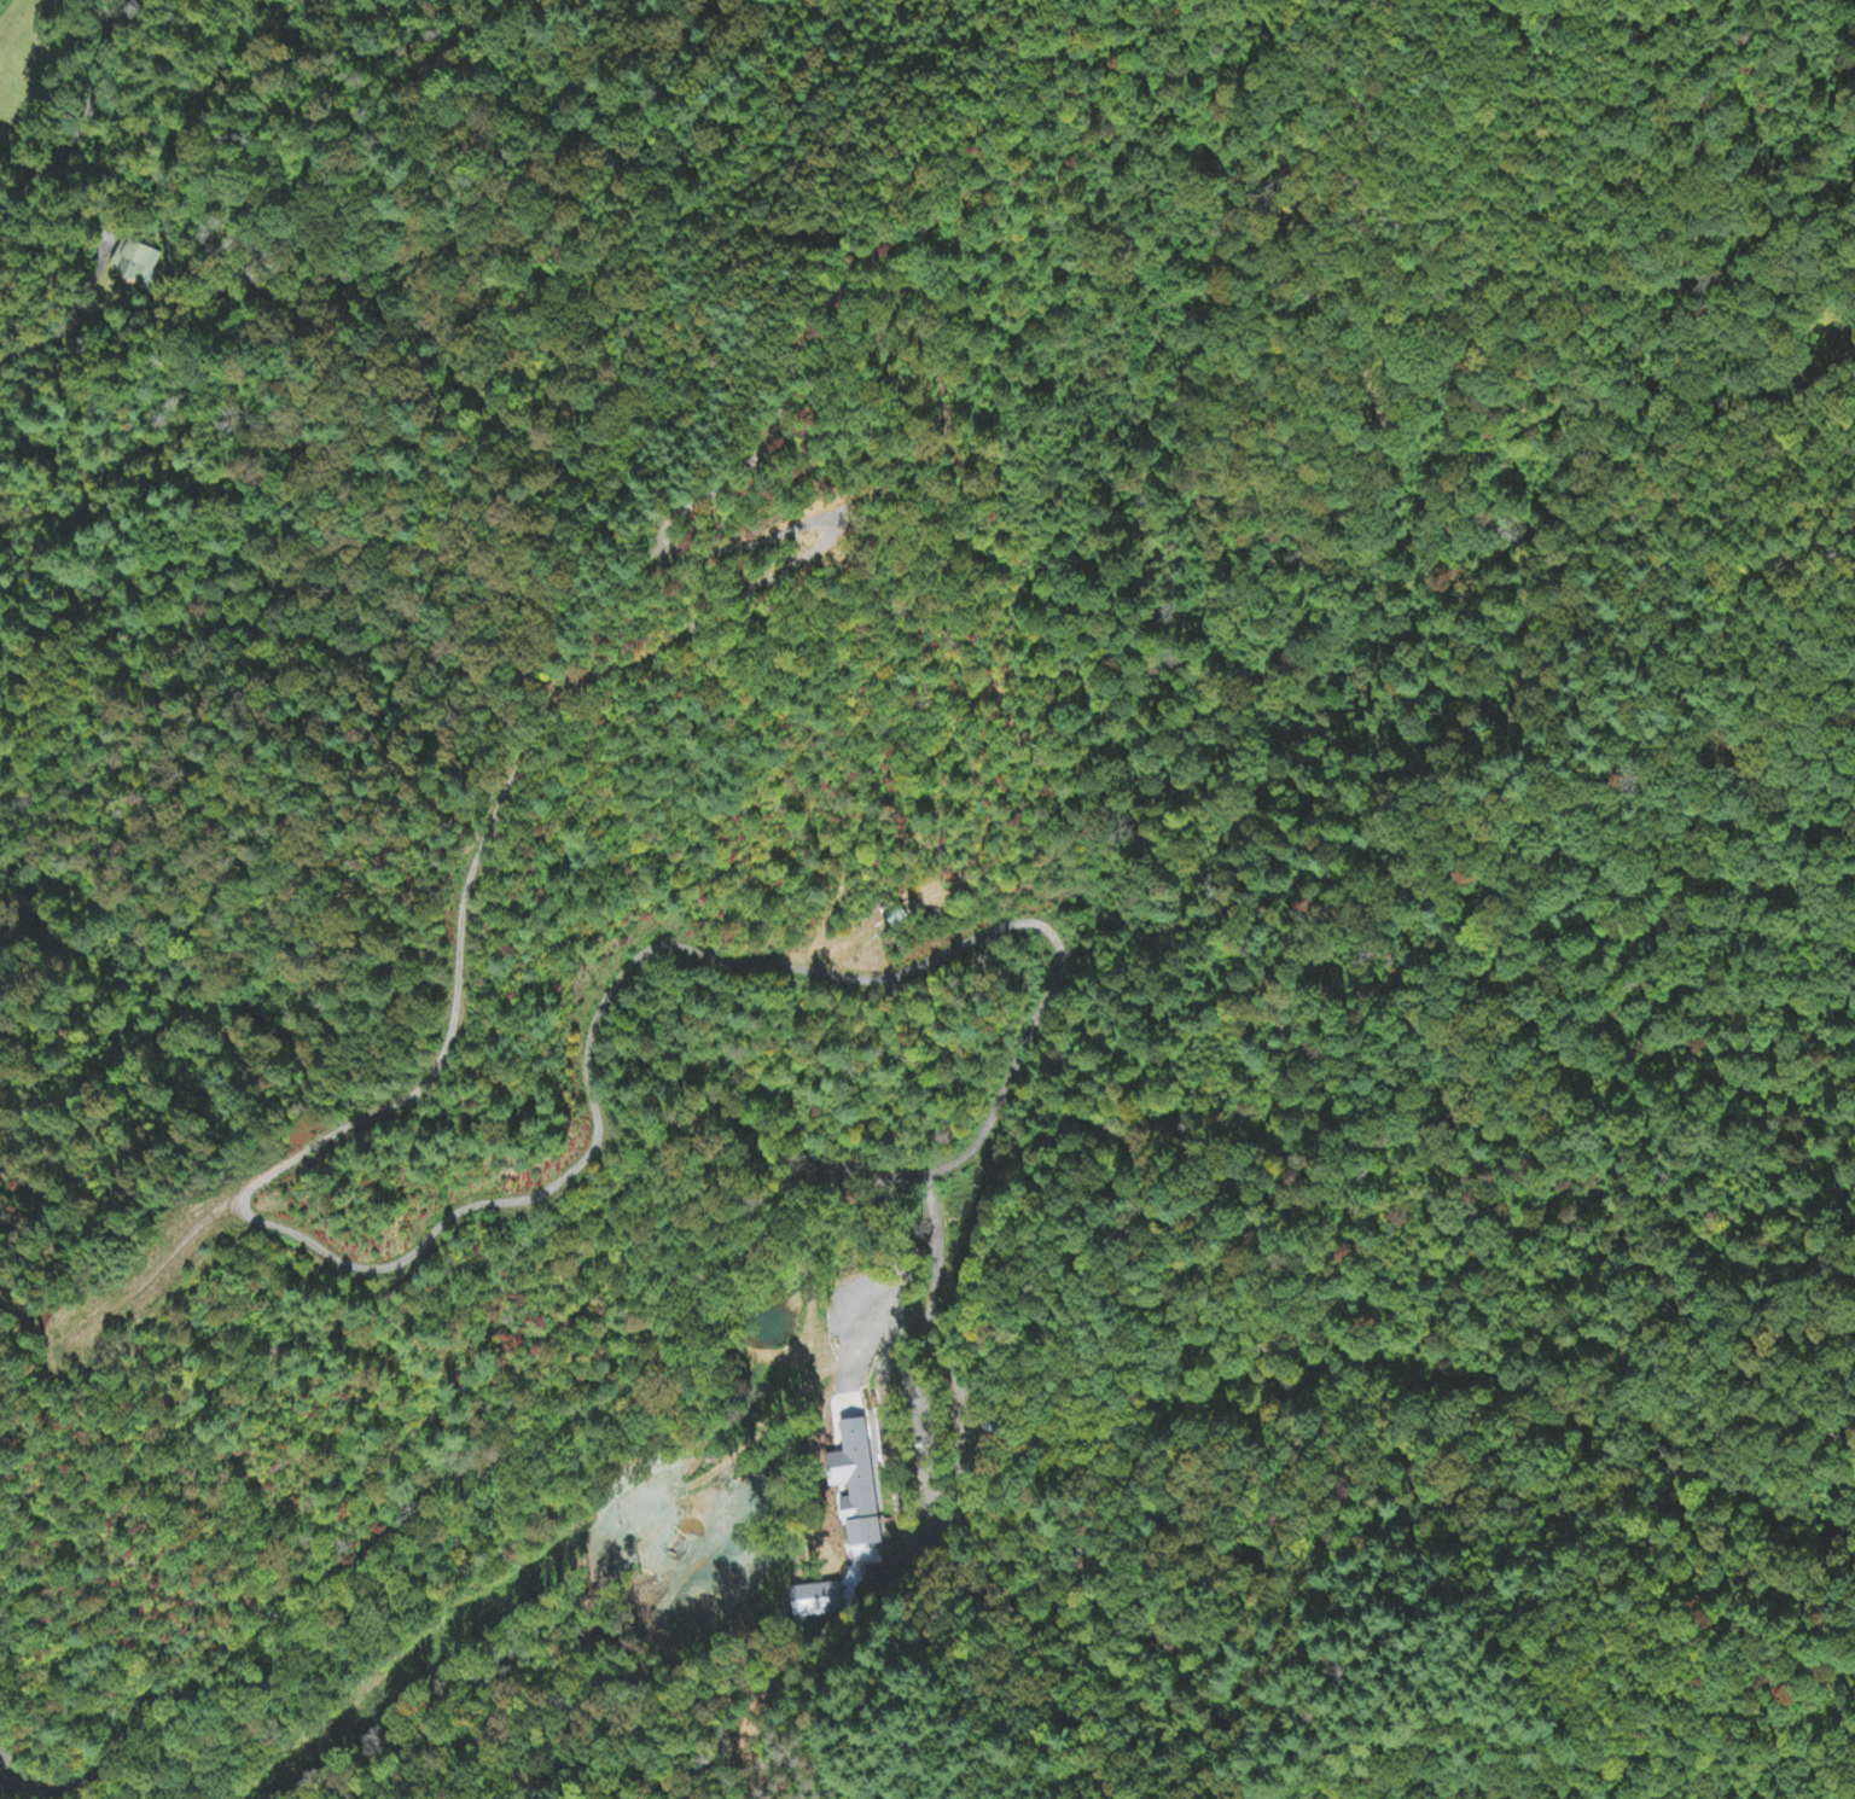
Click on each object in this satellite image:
road: (97, 140)
building: (135, 262)
building: (855, 1486)
road: (470, 1504)

